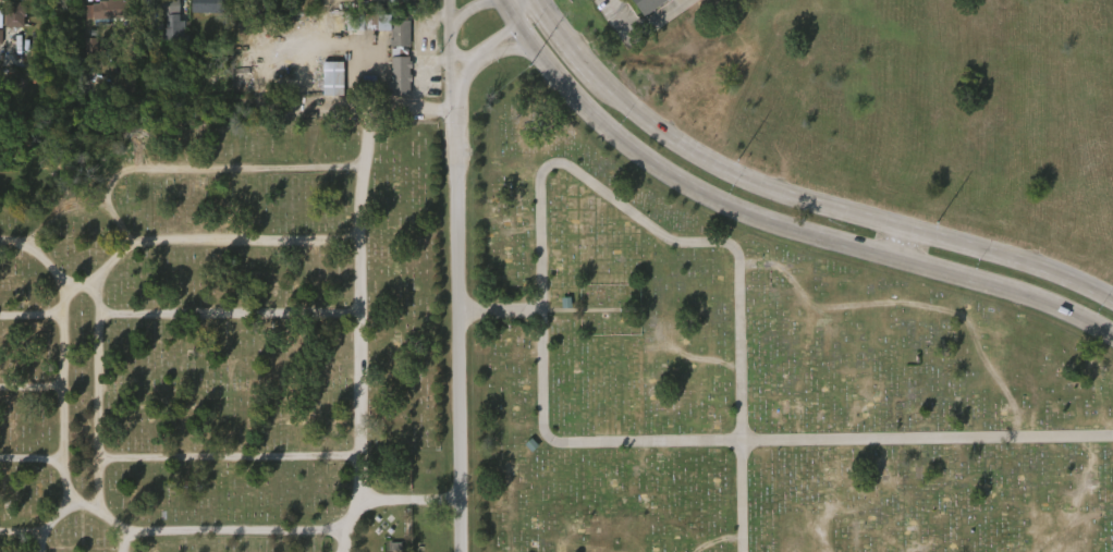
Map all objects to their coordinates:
road: (541, 4)
building: (648, 4)
building: (210, 5)
building: (109, 9)
road: (468, 11)
building: (167, 19)
building: (95, 20)
road: (646, 22)
building: (8, 28)
road: (568, 44)
road: (493, 45)
road: (450, 46)
road: (511, 50)
building: (400, 51)
road: (461, 57)
building: (332, 77)
building: (326, 88)
road: (842, 211)
road: (771, 223)
road: (905, 245)
road: (464, 321)
park: (480, 353)
building: (390, 551)

